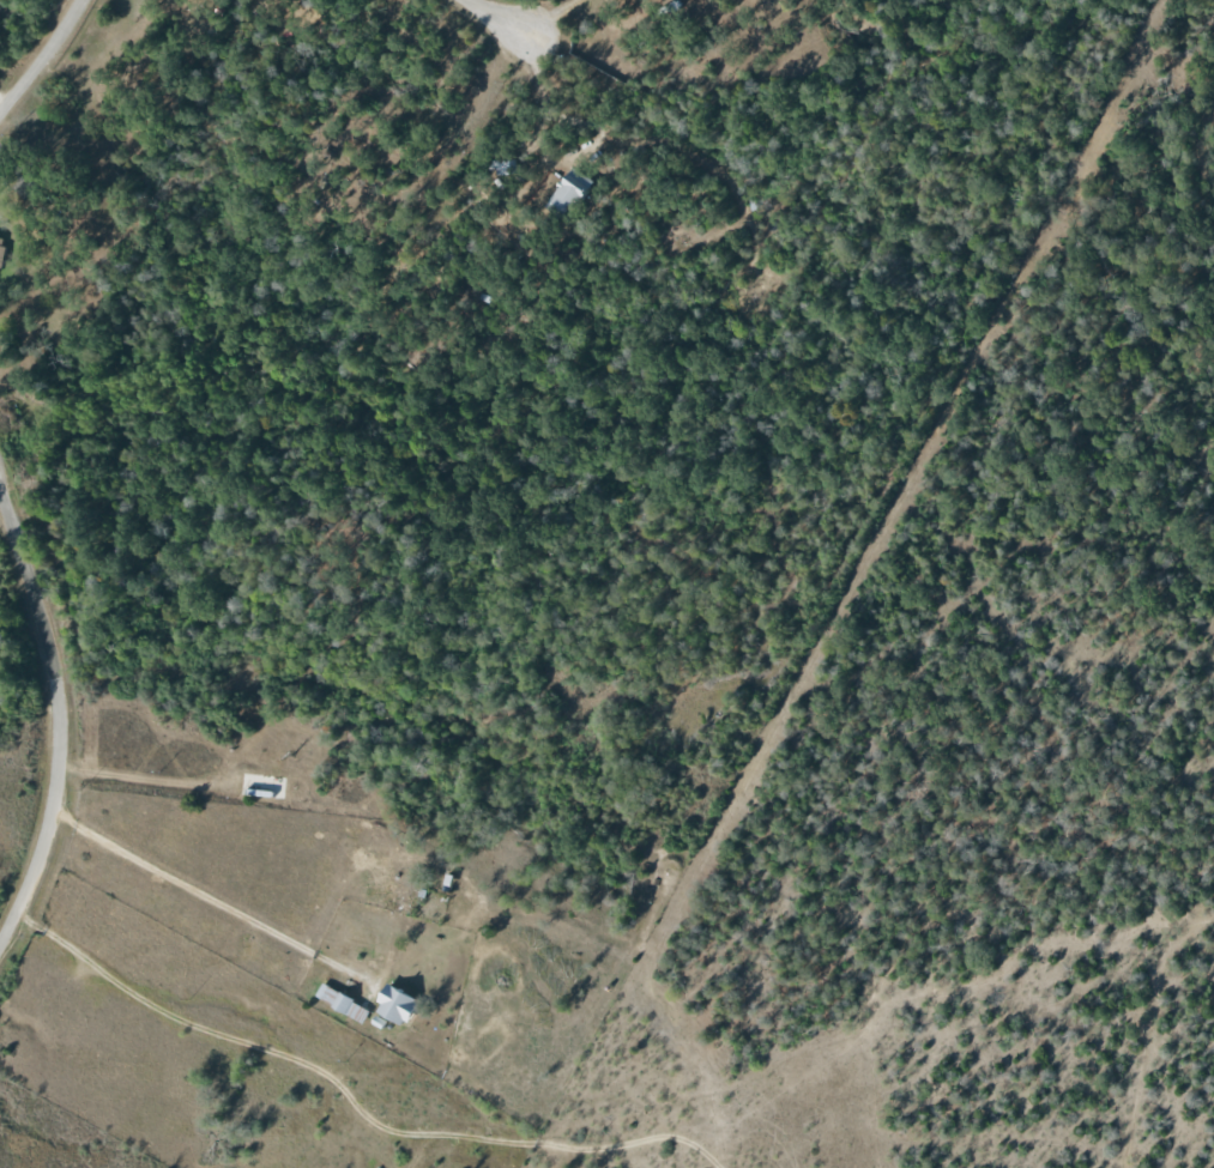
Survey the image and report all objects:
road: (499, 22)
road: (43, 58)
road: (1, 104)
building: (567, 193)
road: (58, 206)
building: (0, 246)
road: (58, 720)
road: (186, 876)
building: (340, 1003)
building: (392, 1005)
road: (354, 1099)

